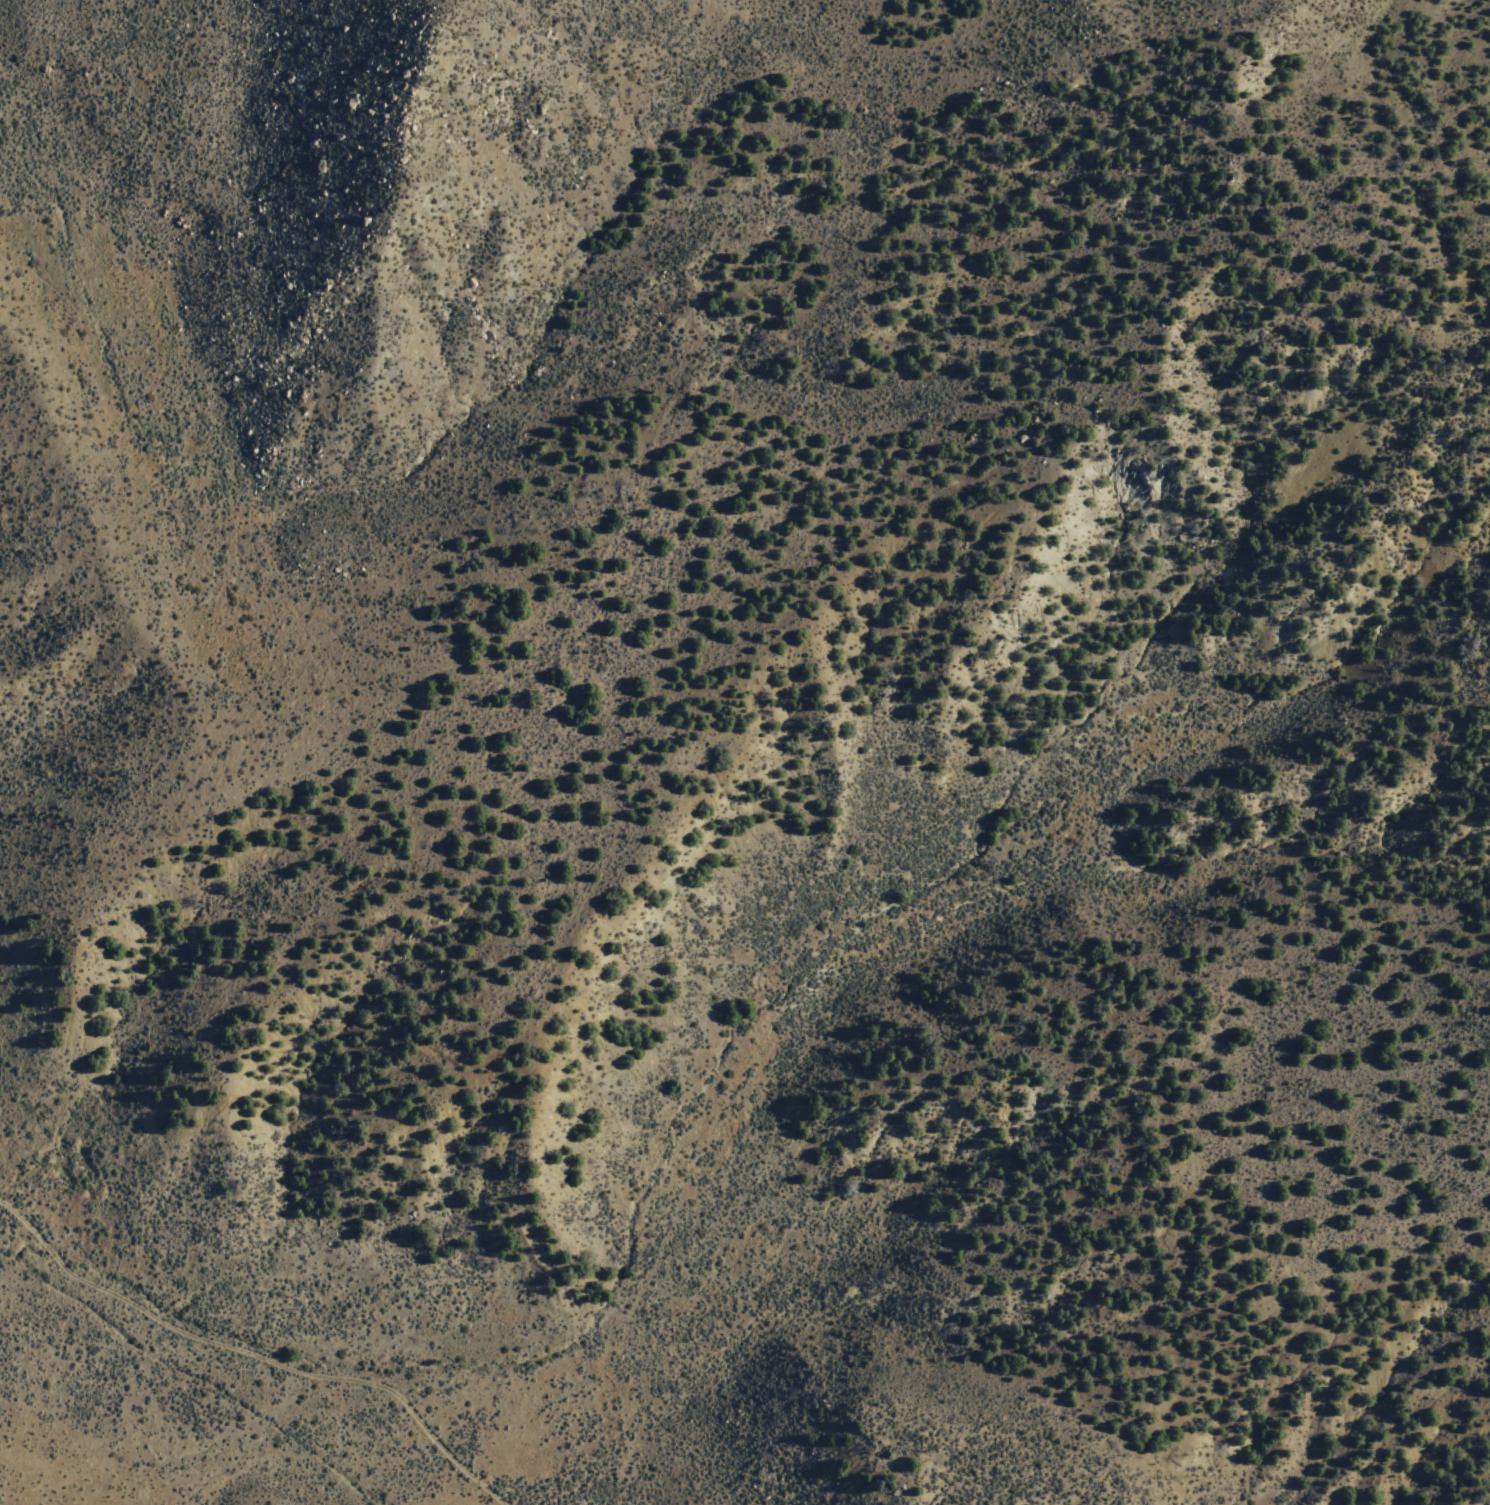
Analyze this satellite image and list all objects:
road: (250, 1359)
crop: (172, 1416)

